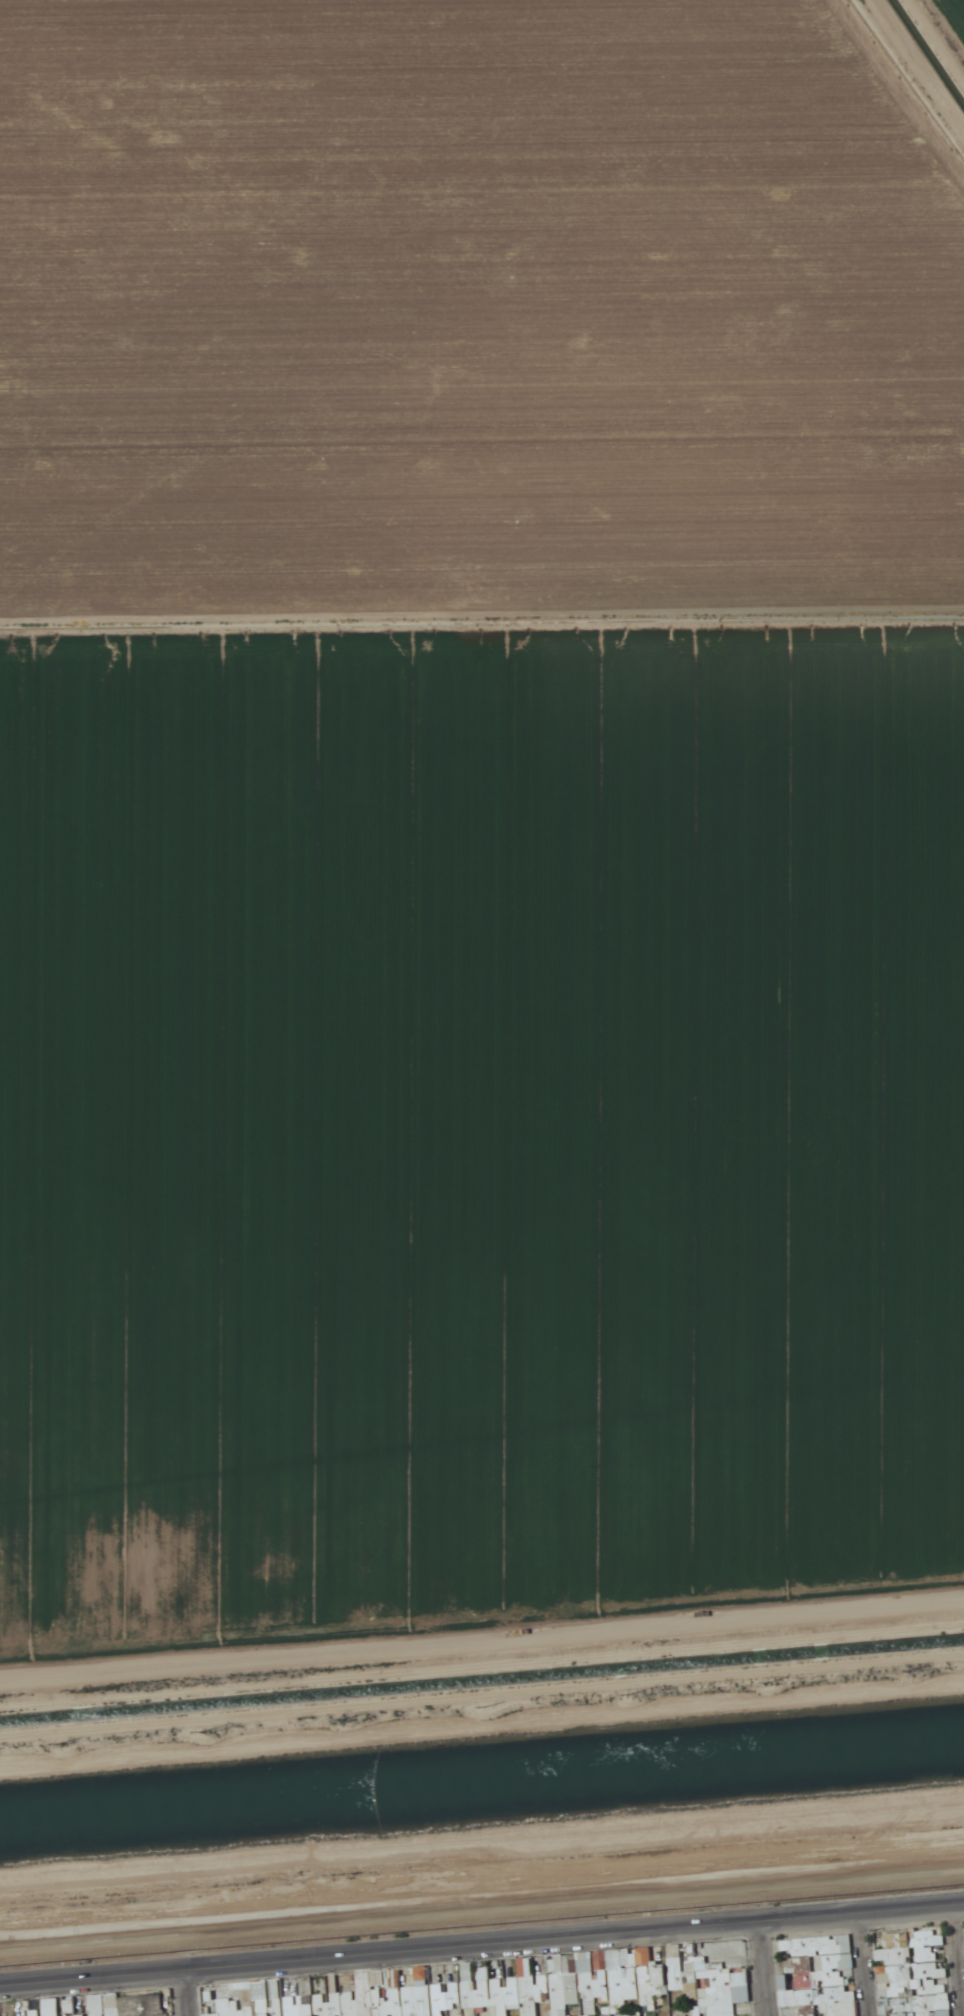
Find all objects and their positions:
road: (937, 40)
road: (481, 1658)
road: (482, 1944)
road: (958, 1960)
road: (866, 1964)
road: (761, 1968)
building: (594, 1978)
road: (186, 1992)
building: (228, 2007)

